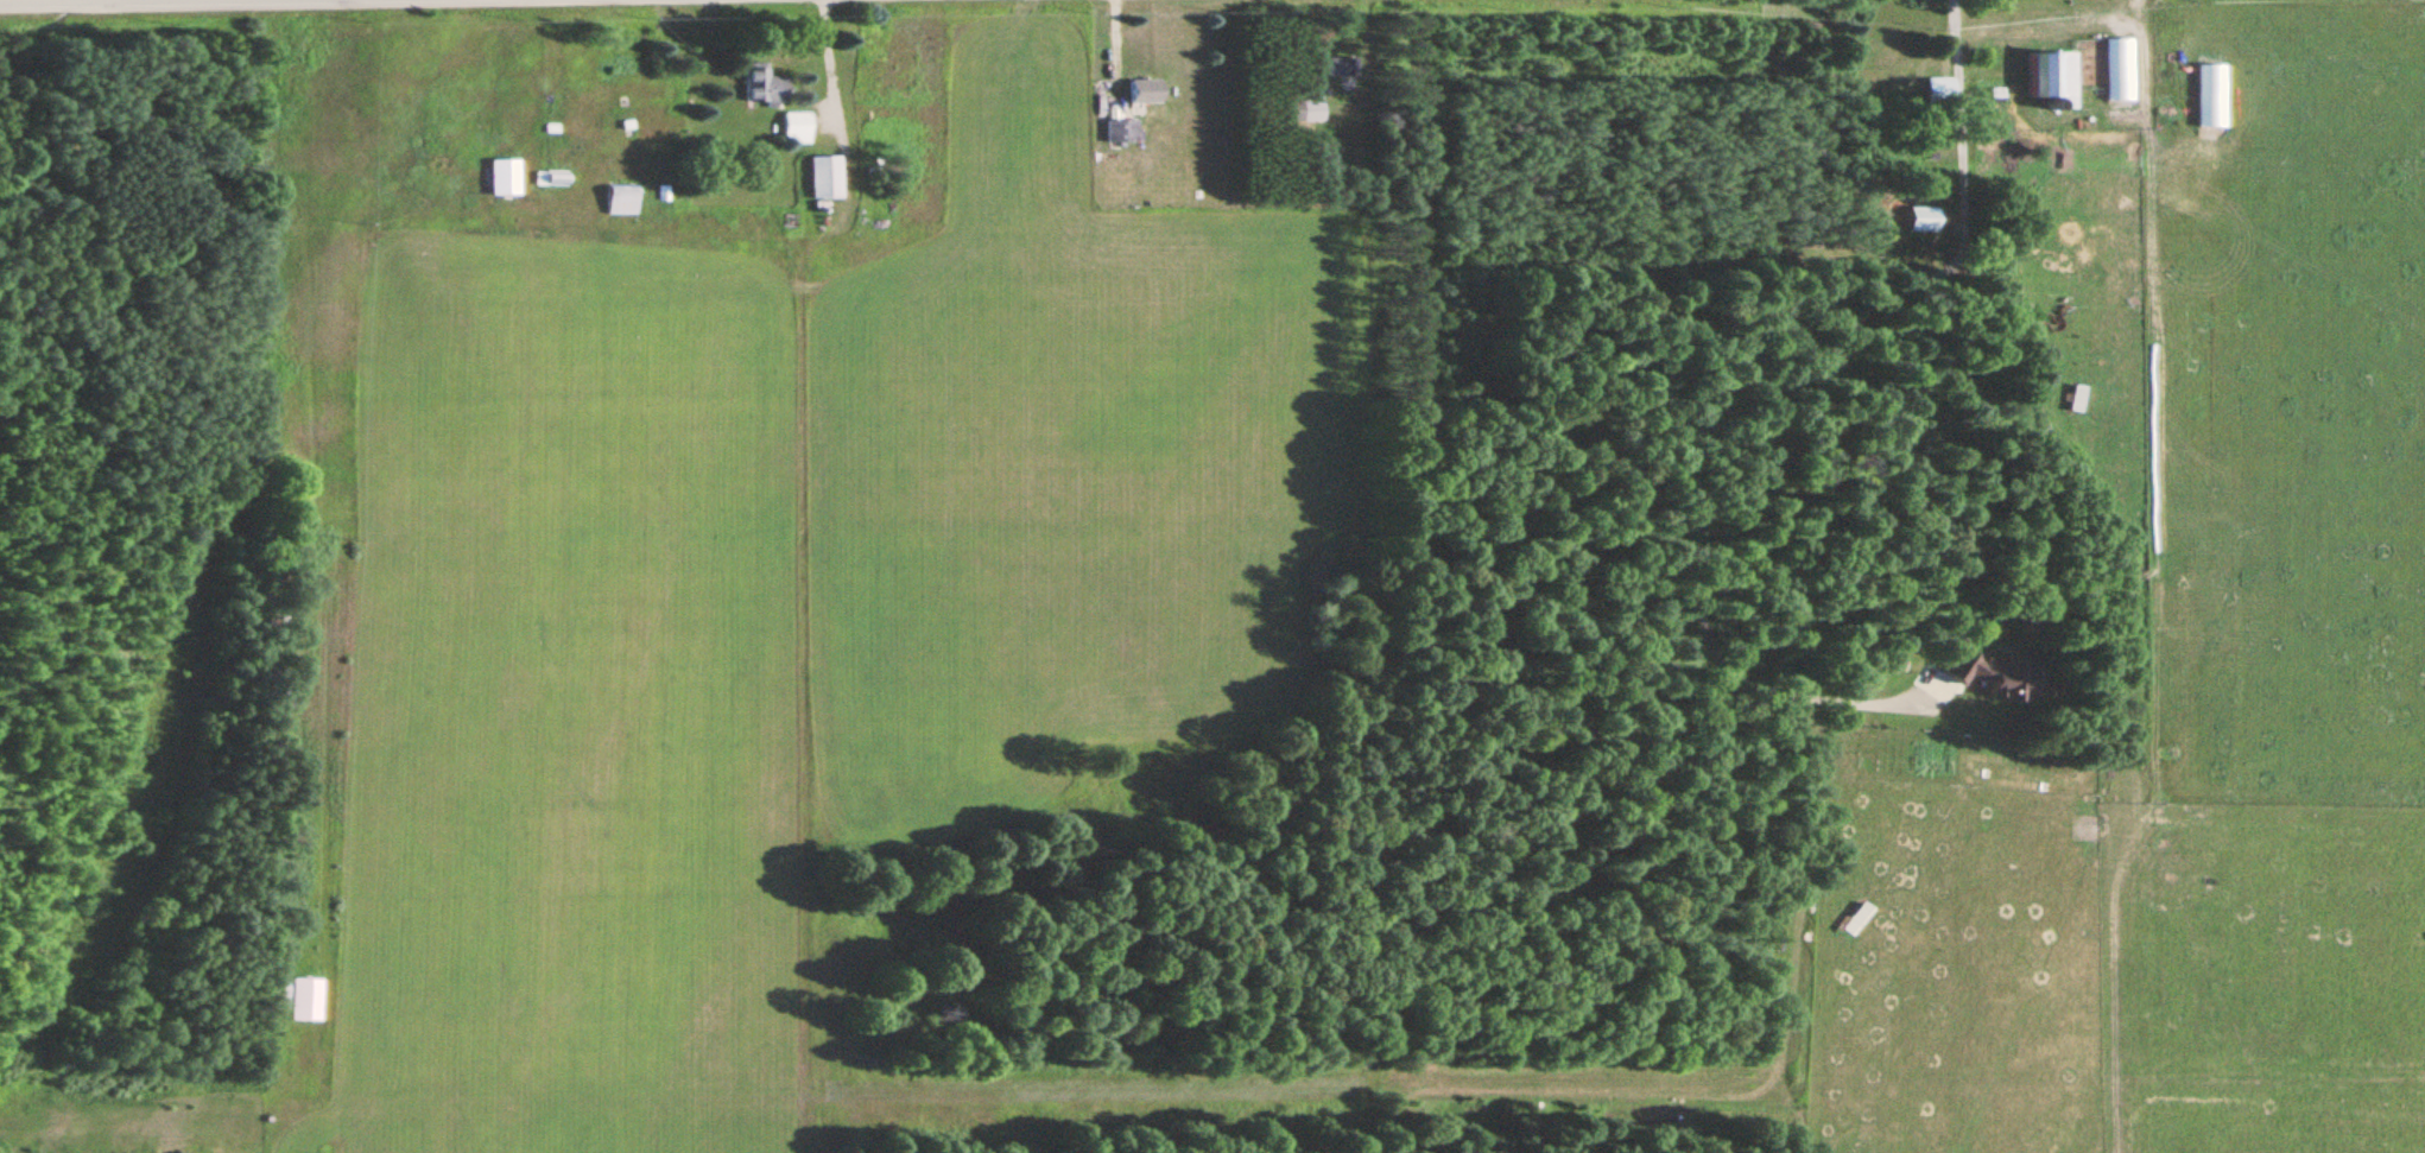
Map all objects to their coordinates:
building: (1338, 65)
building: (2053, 76)
building: (761, 84)
building: (1936, 90)
building: (1144, 91)
building: (1310, 112)
building: (794, 127)
building: (1117, 131)
building: (502, 177)
building: (823, 177)
building: (620, 201)
crop: (784, 602)
building: (305, 997)

